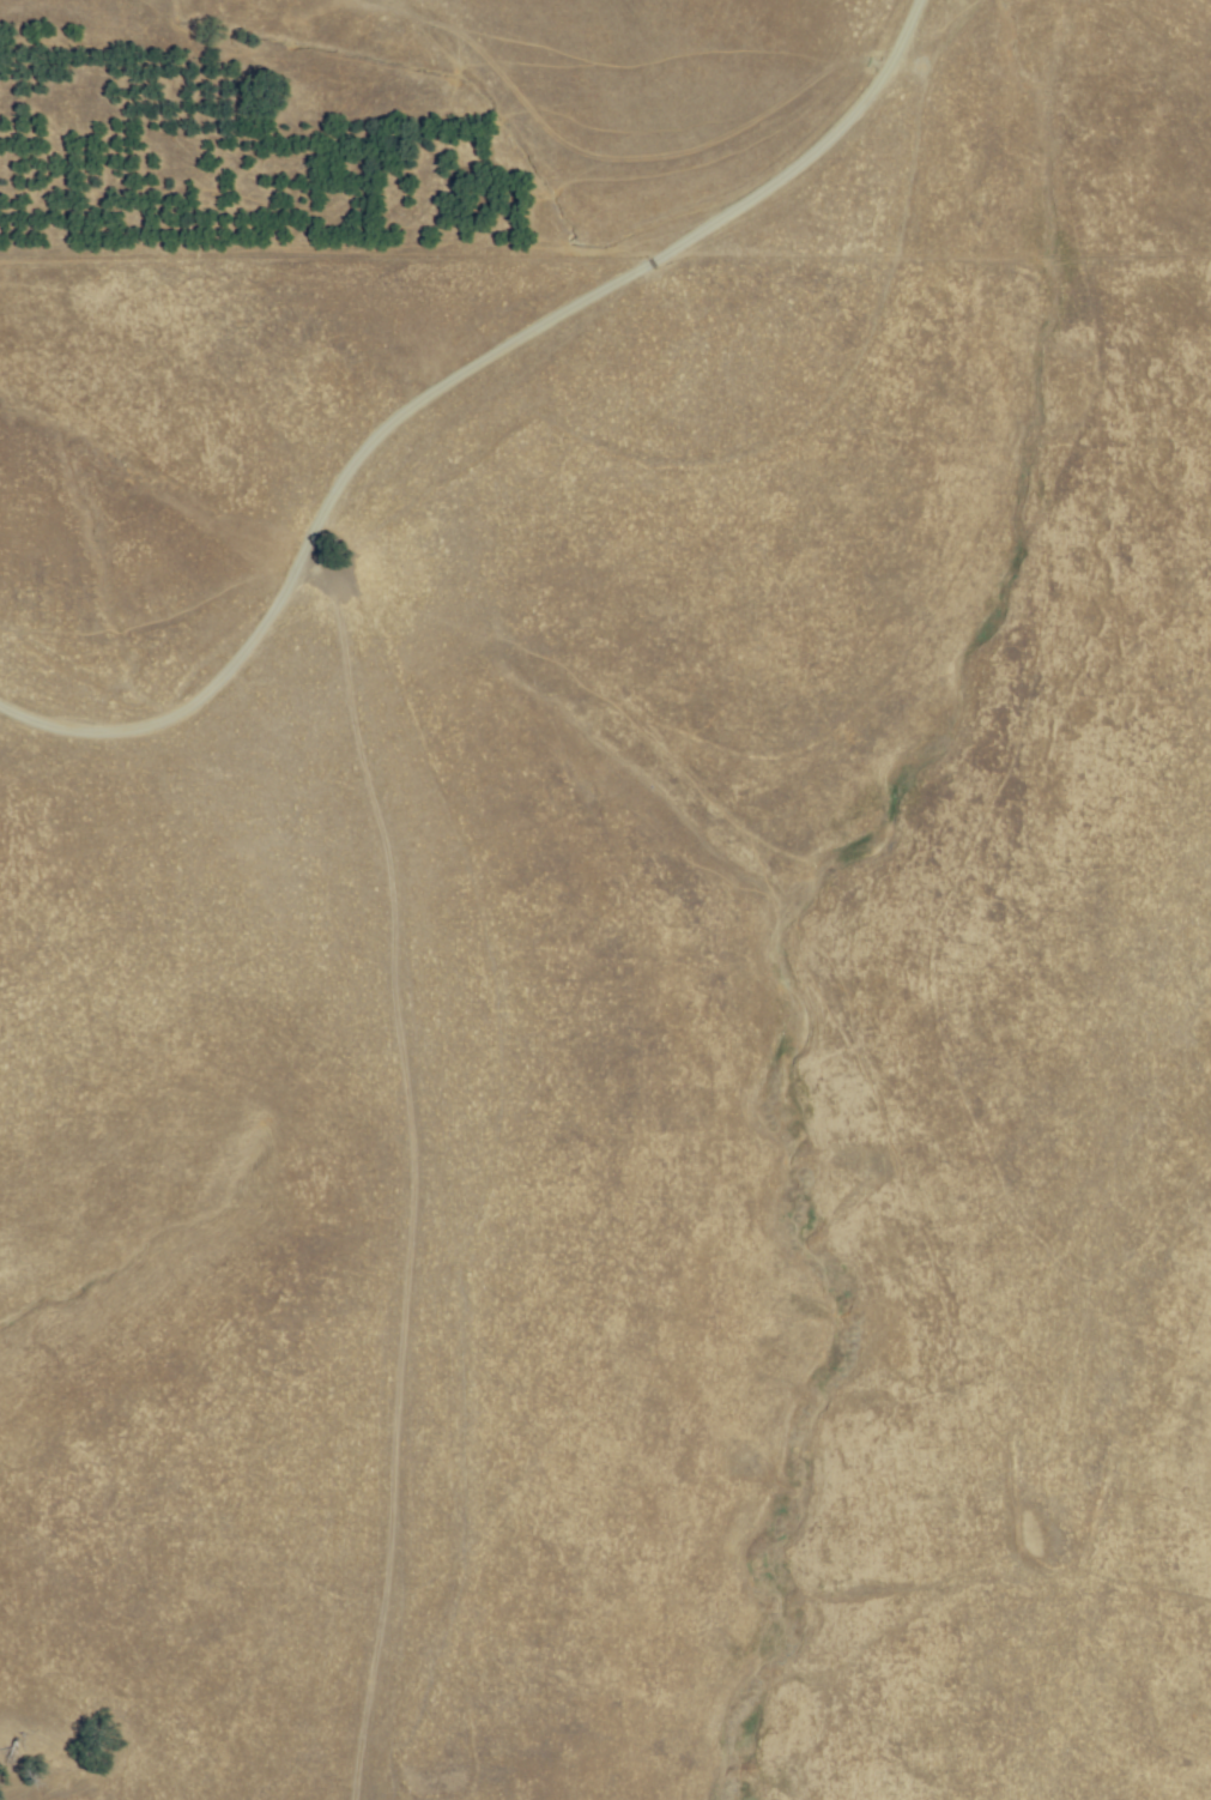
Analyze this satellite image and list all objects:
road: (449, 385)

